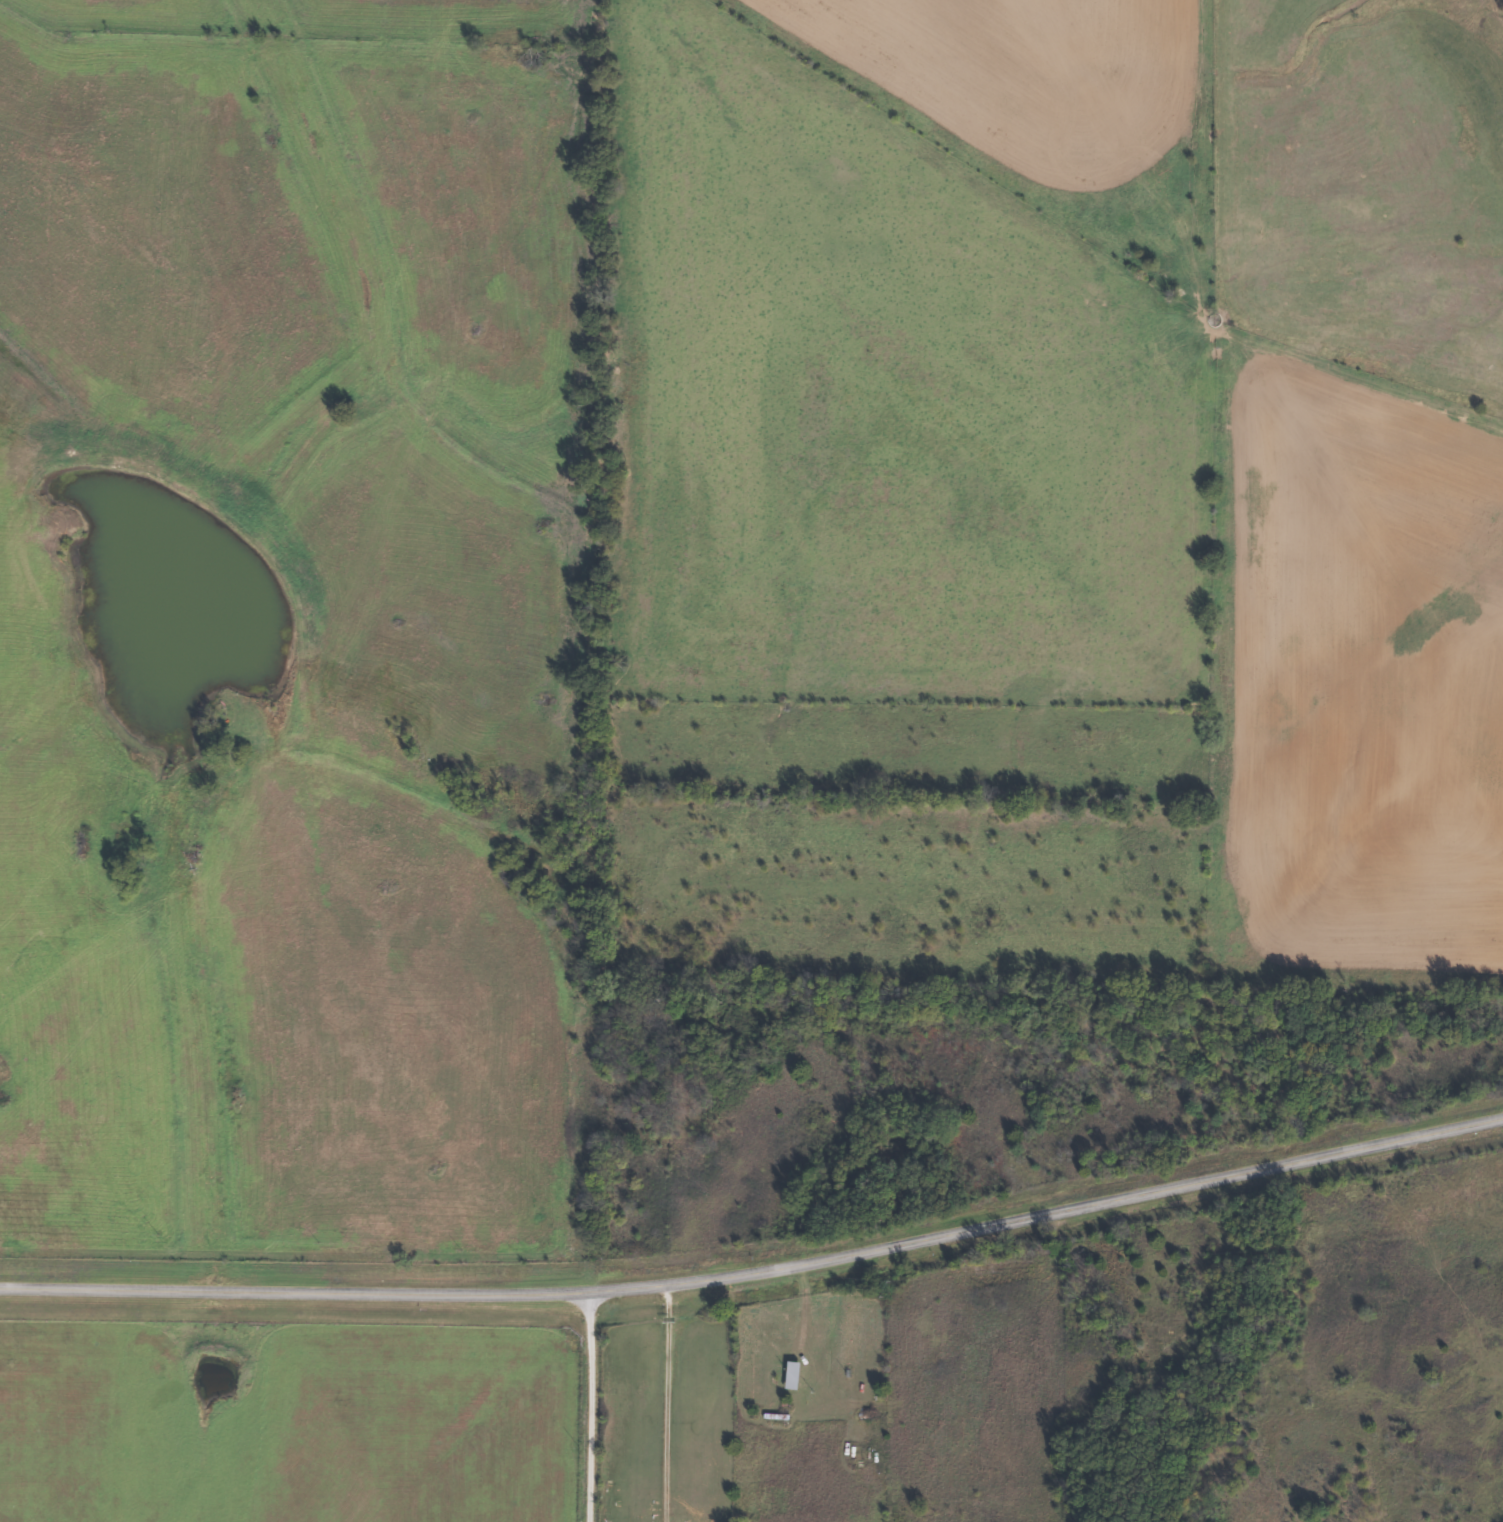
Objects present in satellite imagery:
road: (758, 1273)
building: (794, 1374)
road: (578, 1407)
park: (667, 1419)

